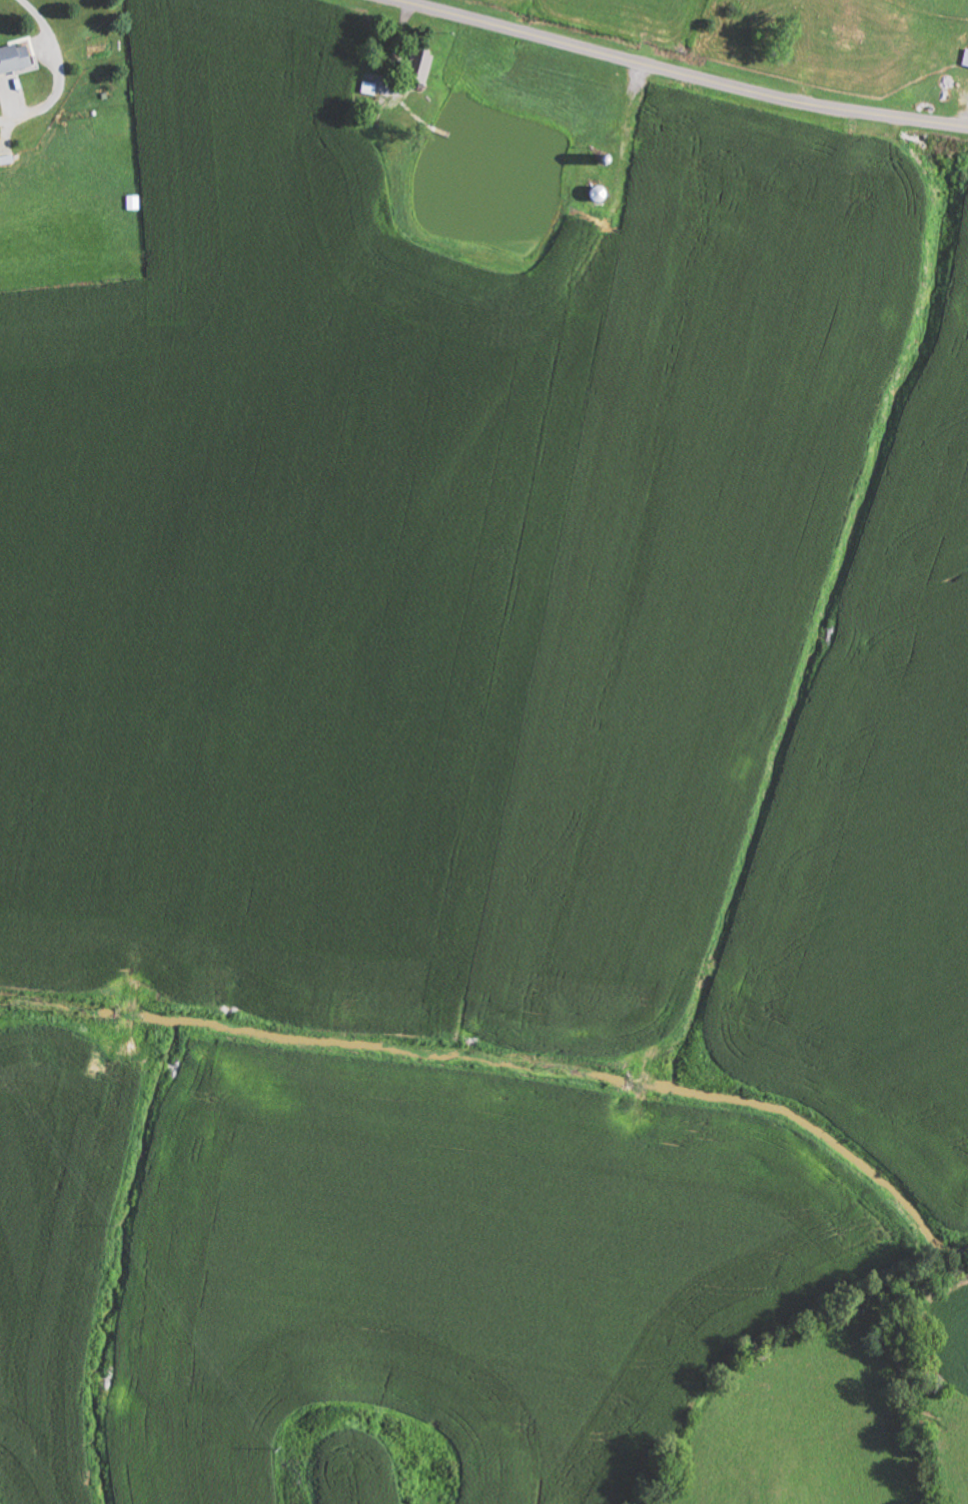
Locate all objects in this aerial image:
building: (13, 61)
building: (965, 62)
building: (421, 69)
road: (679, 74)

